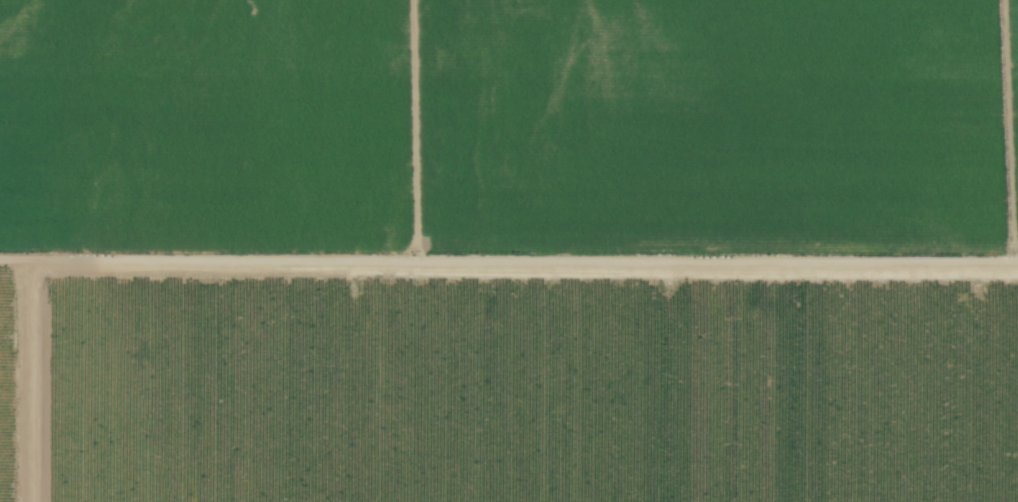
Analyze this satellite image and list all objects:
road: (508, 261)

